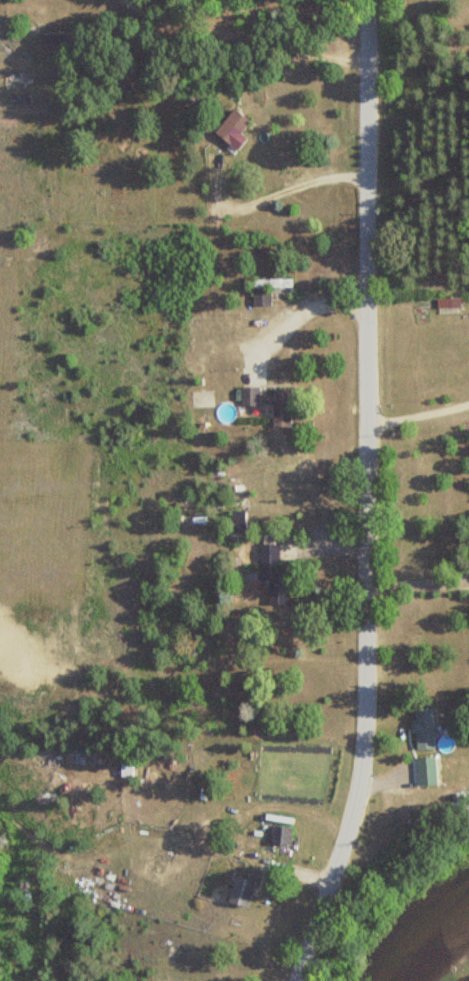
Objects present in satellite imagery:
road: (244, 37)
building: (52, 38)
building: (229, 126)
road: (234, 166)
building: (265, 290)
building: (446, 303)
road: (296, 317)
building: (249, 396)
building: (278, 407)
road: (417, 415)
road: (365, 495)
building: (268, 559)
road: (415, 578)
road: (463, 580)
building: (422, 729)
building: (125, 765)
building: (279, 836)
building: (239, 891)
river: (427, 944)

